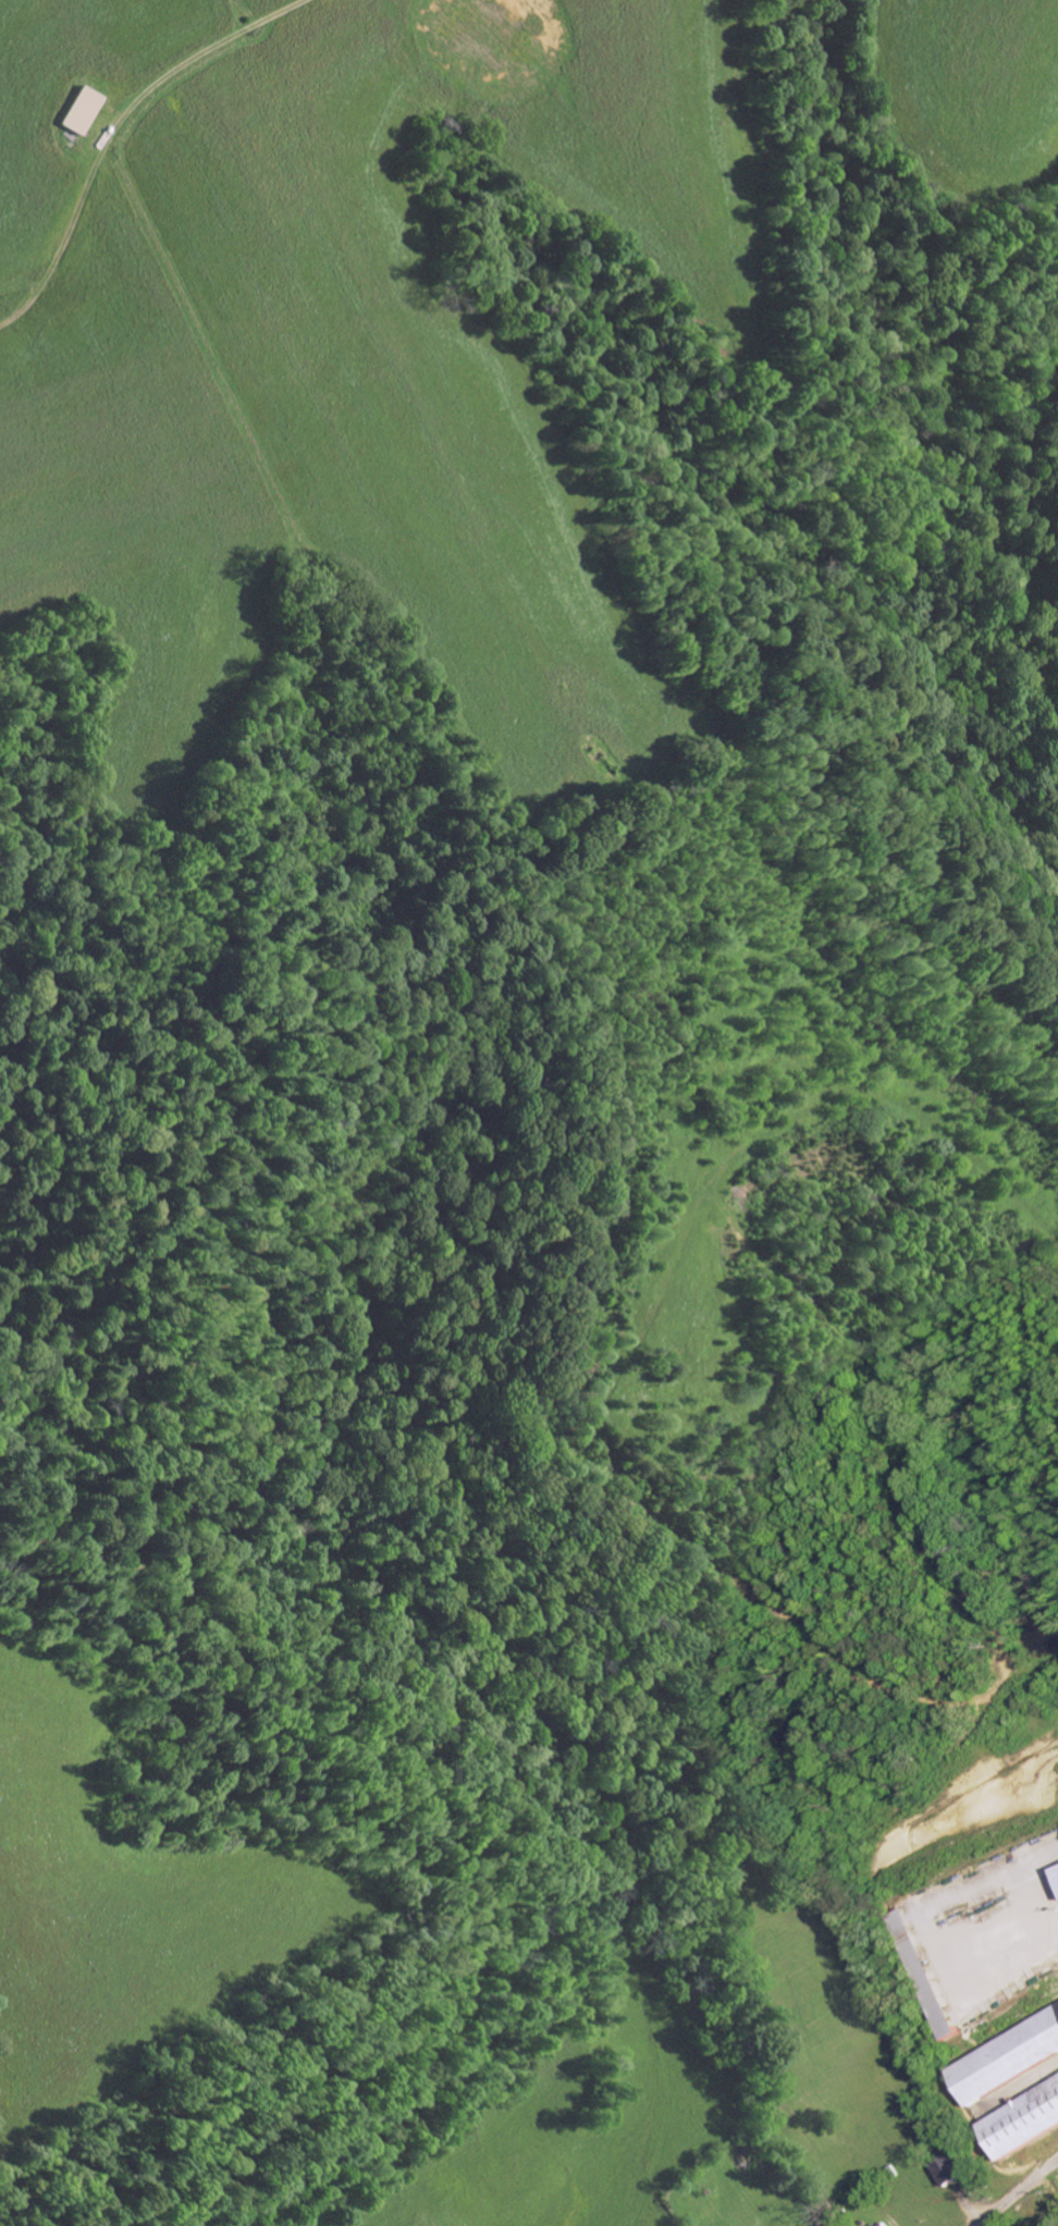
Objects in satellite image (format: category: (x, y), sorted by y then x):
building: (1053, 1877)
building: (976, 1933)
building: (919, 1975)
building: (1004, 2056)
building: (1019, 2118)
building: (943, 2168)
road: (1016, 2190)
building: (877, 2224)

